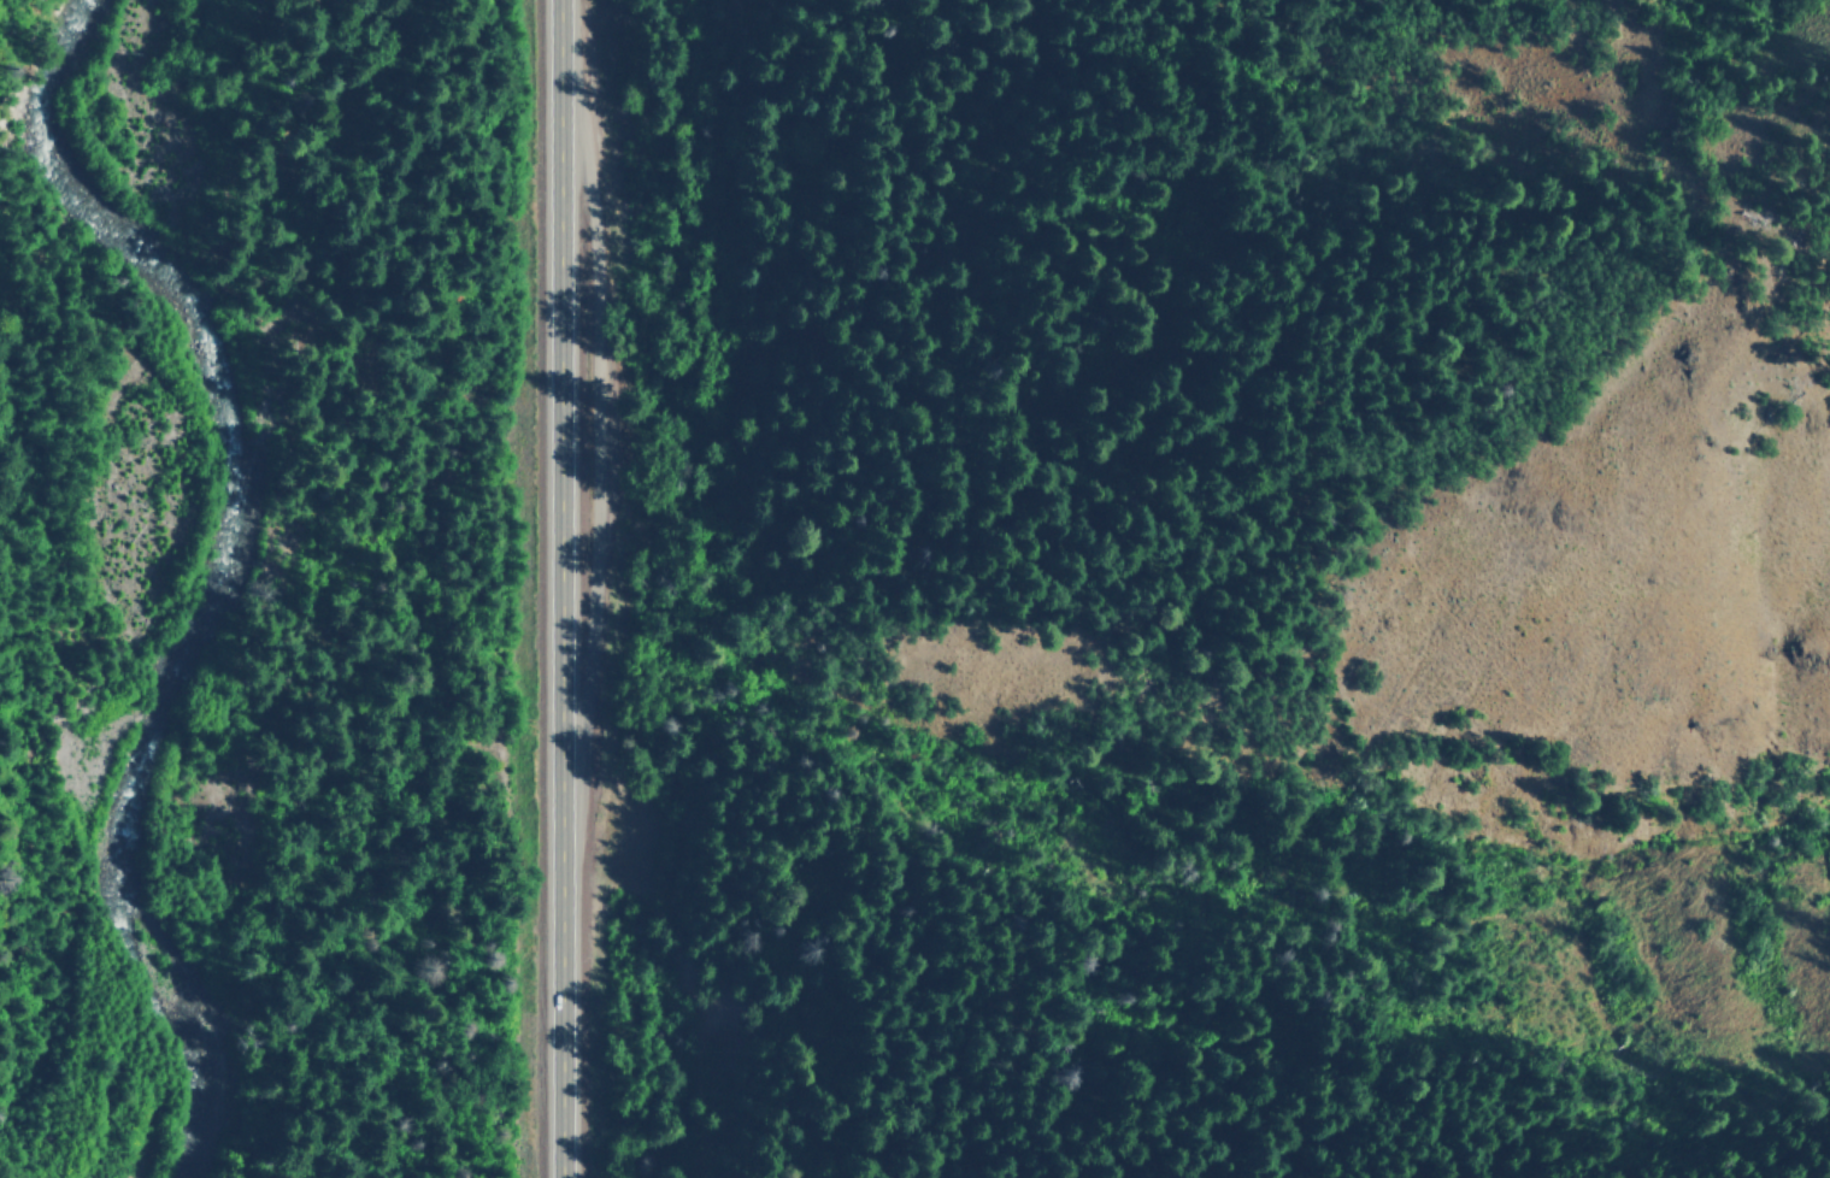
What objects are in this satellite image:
river: (206, 576)
road: (557, 589)

